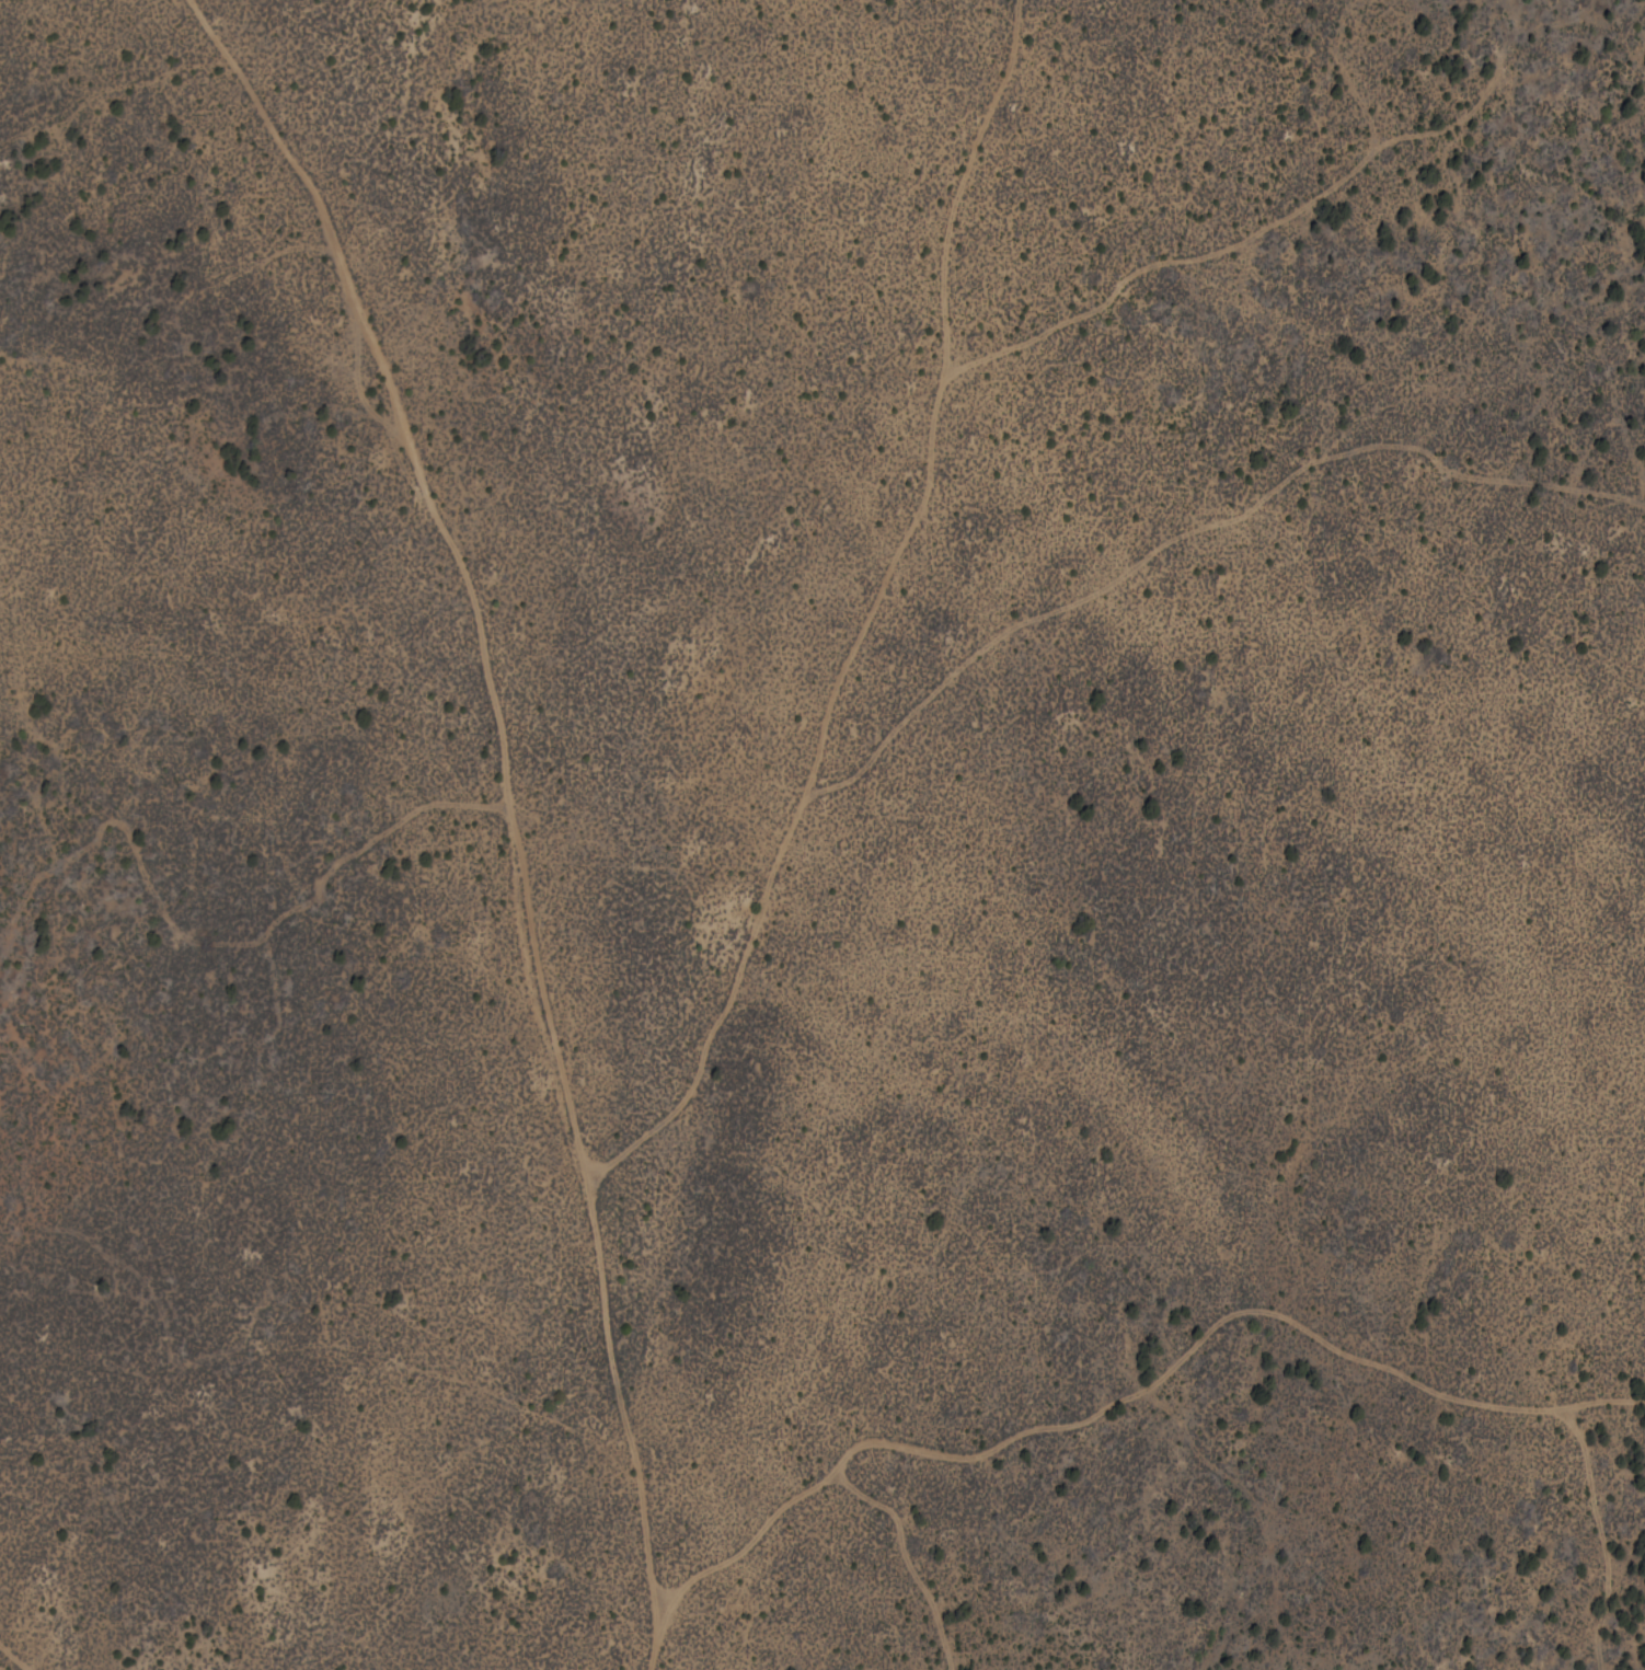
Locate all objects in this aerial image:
road: (1000, 644)
road: (548, 818)
road: (49, 1625)

